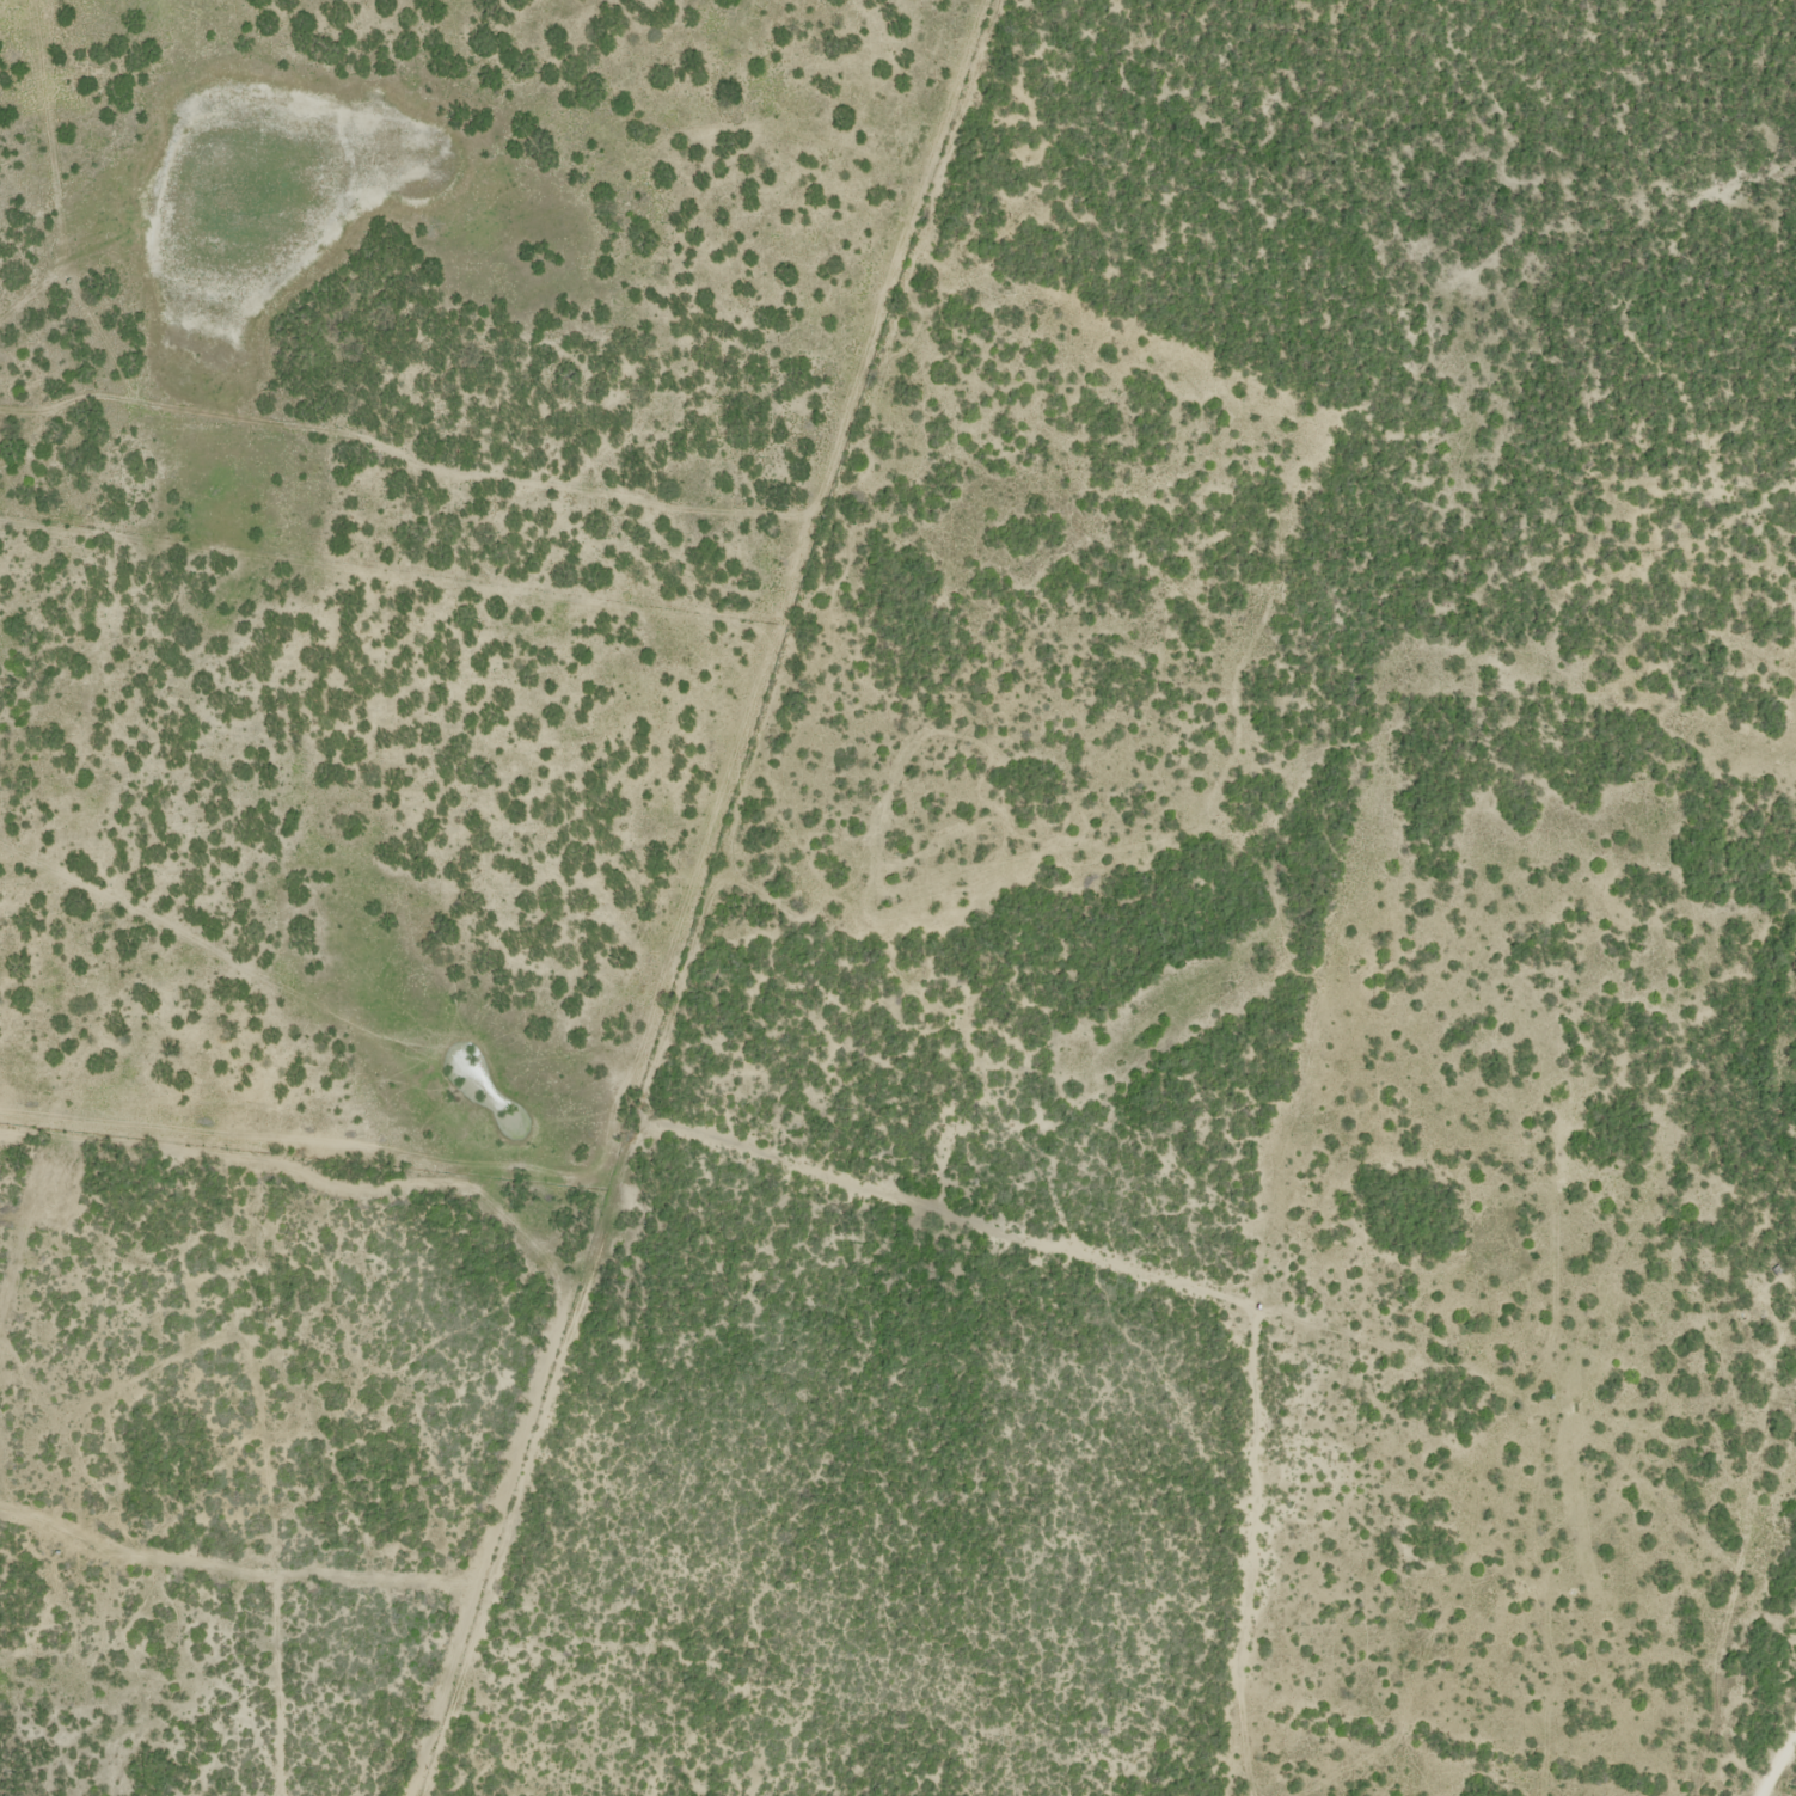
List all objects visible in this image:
road: (1779, 1767)

